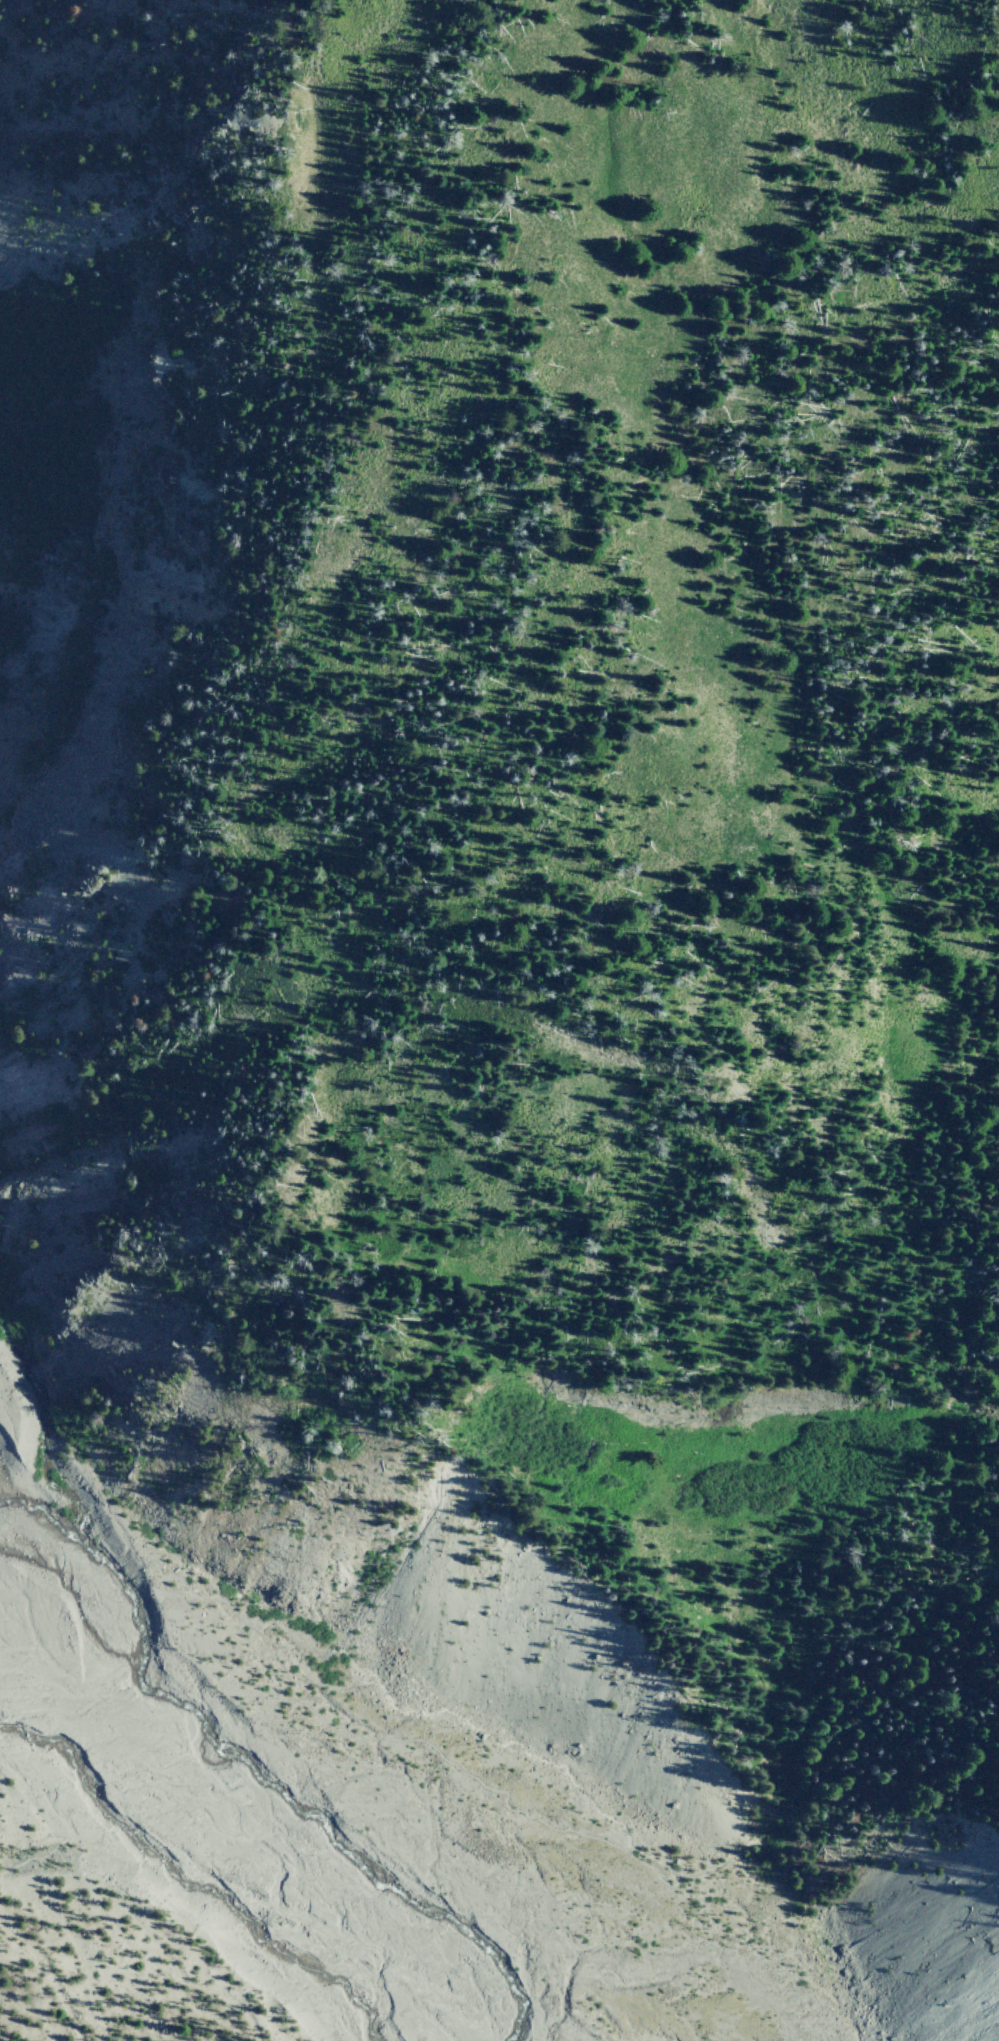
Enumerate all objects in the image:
road: (102, 1803)
road: (594, 1835)
road: (31, 1859)
river: (382, 1909)
road: (146, 1930)
road: (29, 2014)

